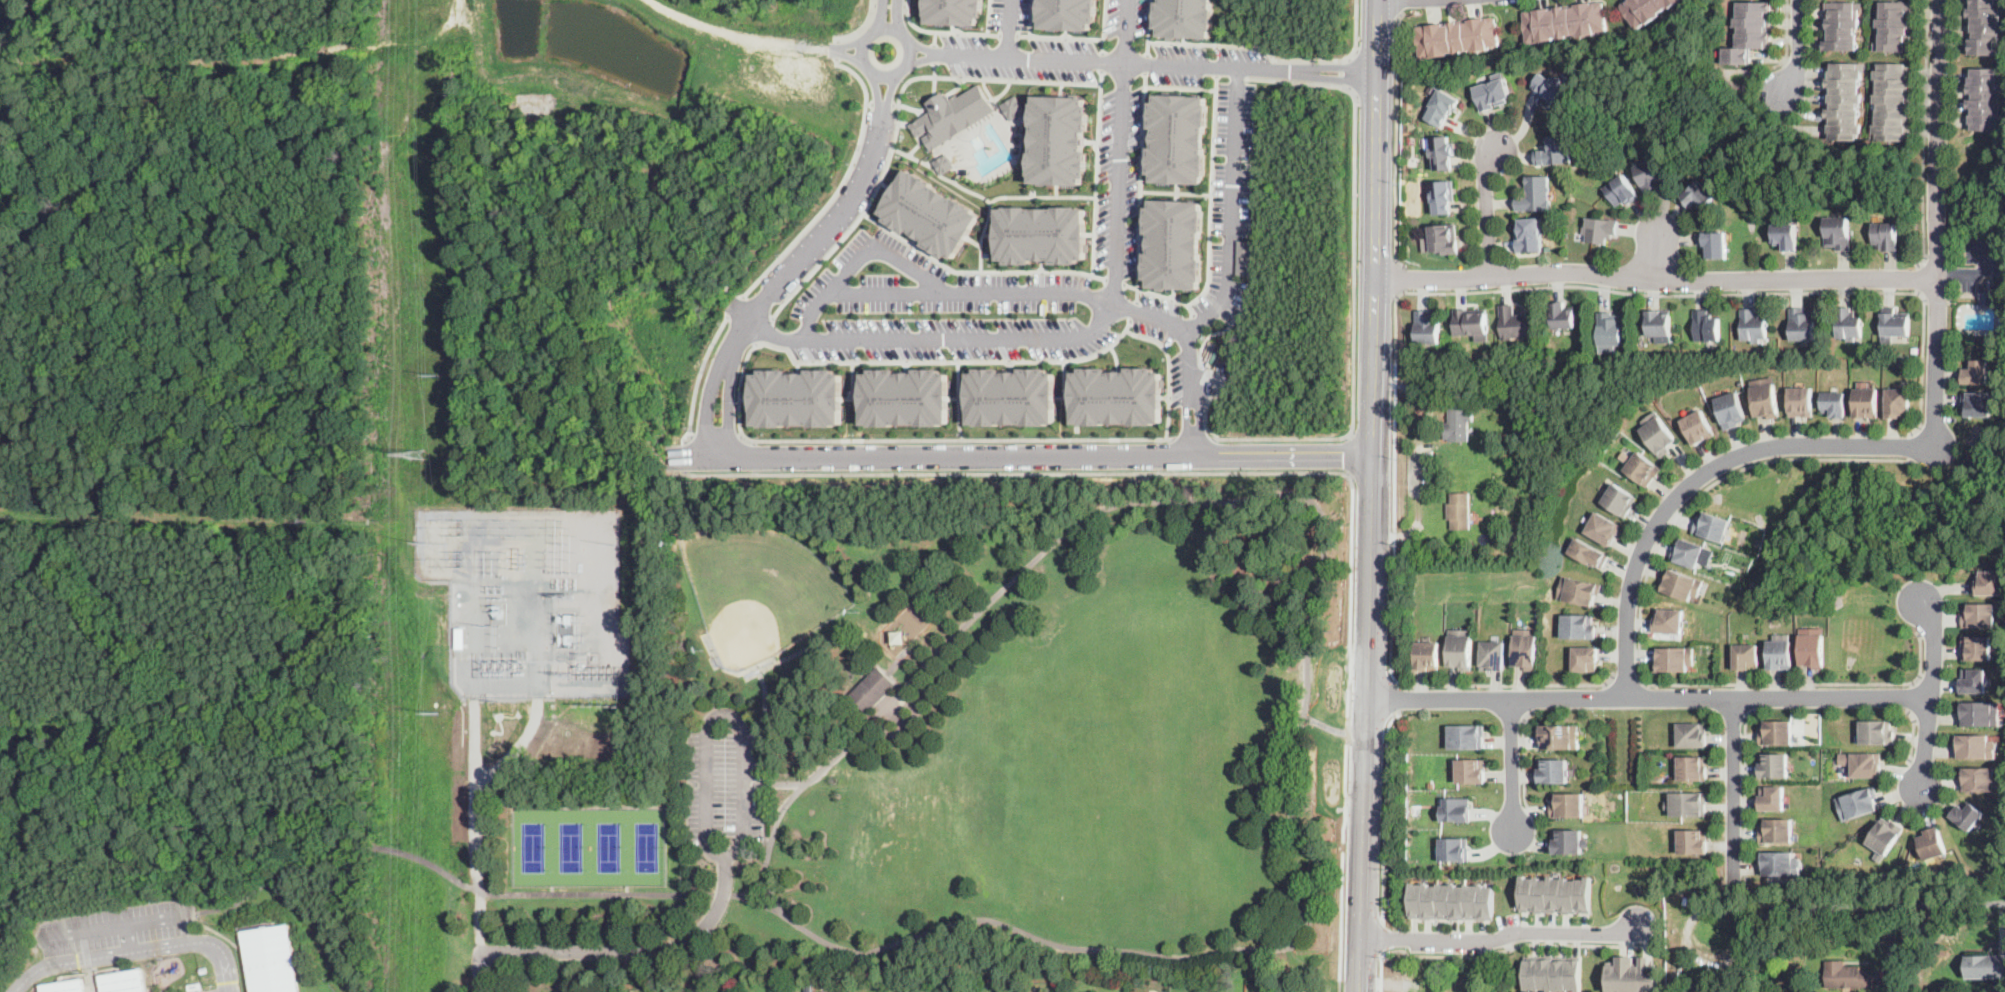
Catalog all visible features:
road: (888, 4)
road: (1400, 7)
building: (1647, 10)
building: (954, 11)
building: (1067, 14)
road: (897, 15)
road: (878, 16)
road: (987, 16)
road: (1029, 17)
building: (1185, 18)
building: (1565, 21)
parking lot: (1126, 22)
road: (861, 24)
building: (1842, 24)
road: (1103, 25)
building: (1895, 25)
building: (1985, 25)
road: (889, 26)
road: (1007, 27)
road: (943, 30)
building: (1750, 31)
road: (1008, 33)
road: (1059, 35)
road: (1785, 36)
road: (934, 37)
building: (1456, 37)
road: (849, 43)
road: (1262, 44)
road: (919, 45)
road: (862, 46)
road: (1147, 46)
road: (836, 49)
road: (1797, 51)
road: (910, 53)
road: (934, 53)
parking lot: (1035, 53)
road: (849, 54)
road: (919, 58)
road: (1103, 59)
road: (1147, 62)
road: (1155, 62)
road: (1354, 72)
road: (883, 74)
road: (934, 78)
road: (1181, 86)
building: (1551, 88)
road: (878, 92)
road: (889, 92)
building: (1493, 93)
building: (1986, 98)
building: (1845, 100)
road: (882, 101)
building: (1893, 101)
building: (1013, 107)
building: (1442, 107)
building: (952, 115)
road: (898, 120)
road: (1927, 132)
building: (1179, 138)
road: (1375, 139)
road: (1396, 139)
building: (1060, 140)
building: (1554, 151)
building: (1442, 152)
building: (944, 163)
road: (1097, 171)
building: (1651, 177)
parking lot: (1119, 185)
road: (1141, 185)
road: (838, 186)
road: (972, 189)
road: (1176, 190)
building: (1621, 191)
road: (1043, 195)
building: (1535, 195)
building: (1441, 196)
building: (1698, 196)
parking lot: (1232, 201)
road: (1232, 208)
building: (931, 213)
road: (1486, 213)
road: (1937, 223)
road: (1209, 226)
building: (1599, 230)
building: (1837, 232)
building: (1043, 234)
building: (1531, 235)
building: (1886, 236)
building: (1785, 237)
building: (1443, 239)
building: (1174, 243)
building: (1713, 245)
road: (811, 246)
road: (861, 251)
road: (1657, 255)
building: (1244, 257)
parking lot: (1982, 260)
road: (976, 269)
road: (1976, 272)
road: (1353, 277)
road: (1396, 277)
road: (1918, 277)
road: (1655, 279)
road: (1114, 280)
road: (1041, 291)
road: (1730, 291)
building: (1991, 292)
road: (735, 305)
road: (1190, 308)
parking lot: (944, 309)
road: (1132, 309)
building: (1562, 316)
building: (1894, 323)
road: (1228, 324)
building: (1472, 324)
building: (1515, 324)
building: (1802, 324)
building: (1848, 324)
building: (1659, 325)
building: (1752, 326)
building: (1705, 327)
building: (1428, 328)
road: (762, 329)
building: (1609, 329)
road: (1073, 337)
building: (1915, 350)
building: (1413, 354)
road: (1116, 357)
road: (946, 361)
road: (796, 366)
road: (905, 366)
road: (1372, 366)
road: (1166, 371)
building: (1978, 371)
road: (699, 374)
power tower: (437, 375)
parking lot: (1177, 376)
road: (1064, 378)
road: (850, 379)
building: (1486, 390)
building: (1012, 396)
building: (1117, 396)
road: (1164, 396)
building: (797, 397)
building: (904, 397)
road: (958, 397)
road: (1065, 397)
building: (1765, 397)
road: (746, 398)
road: (851, 398)
road: (958, 400)
building: (1801, 401)
building: (1867, 402)
building: (1835, 403)
building: (1899, 403)
building: (1979, 403)
road: (1205, 406)
road: (707, 408)
road: (729, 409)
building: (1731, 409)
road: (1185, 414)
road: (1198, 414)
building: (1458, 424)
building: (1698, 427)
building: (1658, 433)
road: (717, 434)
road: (1346, 437)
road: (1191, 438)
road: (908, 439)
road: (1158, 441)
road: (1192, 443)
road: (1911, 445)
power tower: (417, 454)
road: (1017, 454)
road: (1347, 454)
road: (754, 455)
road: (1158, 455)
road: (687, 456)
building: (1641, 467)
road: (1159, 470)
road: (1265, 471)
road: (1347, 472)
road: (1699, 477)
road: (1393, 486)
building: (1618, 500)
building: (1460, 510)
building: (1496, 520)
building: (1711, 526)
building: (1602, 528)
building: (1757, 542)
power tower: (436, 544)
building: (1686, 551)
building: (1588, 553)
building: (1991, 582)
building: (1682, 583)
park: (760, 590)
building: (1578, 590)
power substation: (528, 598)
building: (1979, 615)
building: (1669, 621)
building: (1578, 626)
road: (1639, 628)
building: (1812, 646)
building: (1977, 647)
building: (1527, 648)
building: (1460, 649)
building: (1779, 652)
building: (1428, 655)
building: (1493, 655)
building: (1746, 656)
building: (1586, 658)
building: (1674, 658)
road: (1626, 678)
building: (1974, 680)
road: (1506, 683)
building: (872, 690)
road: (1749, 695)
road: (1909, 695)
road: (1931, 695)
road: (1394, 696)
road: (1524, 697)
road: (1649, 697)
building: (1979, 712)
power tower: (438, 713)
road: (1368, 723)
road: (1326, 724)
road: (742, 727)
building: (1777, 731)
road: (1369, 732)
building: (1877, 732)
road: (1913, 734)
building: (1468, 735)
building: (1692, 735)
building: (1561, 736)
park: (966, 741)
building: (1976, 746)
road: (1293, 754)
road: (1524, 760)
building: (1863, 763)
road: (1512, 765)
building: (1774, 765)
building: (1692, 768)
building: (1472, 770)
building: (1554, 771)
building: (1982, 779)
road: (787, 783)
parking lot: (726, 784)
road: (1733, 788)
road: (1744, 789)
building: (1772, 798)
road: (789, 800)
building: (1858, 802)
building: (1687, 803)
building: (1568, 804)
building: (1457, 808)
road: (1385, 813)
building: (1968, 813)
building: (1777, 830)
building: (1885, 835)
building: (1568, 841)
building: (1692, 841)
building: (1933, 843)
park: (571, 847)
park: (647, 847)
park: (533, 848)
park: (609, 848)
building: (1454, 848)
building: (1780, 863)
road: (772, 891)
building: (1555, 894)
building: (1452, 901)
road: (1987, 903)
road: (1833, 907)
parking lot: (118, 926)
road: (118, 926)
road: (223, 935)
road: (1384, 935)
road: (1501, 935)
road: (129, 938)
road: (1511, 946)
road: (137, 951)
road: (615, 951)
road: (88, 956)
building: (271, 960)
building: (1834, 960)
building: (1985, 966)
road: (103, 970)
building: (204, 970)
road: (1380, 971)
building: (1553, 972)
road: (79, 973)
building: (1633, 975)
building: (1847, 976)
road: (91, 981)
building: (125, 981)
road: (1338, 984)
building: (66, 986)
road: (151, 987)
building: (196, 987)
building: (1705, 987)

